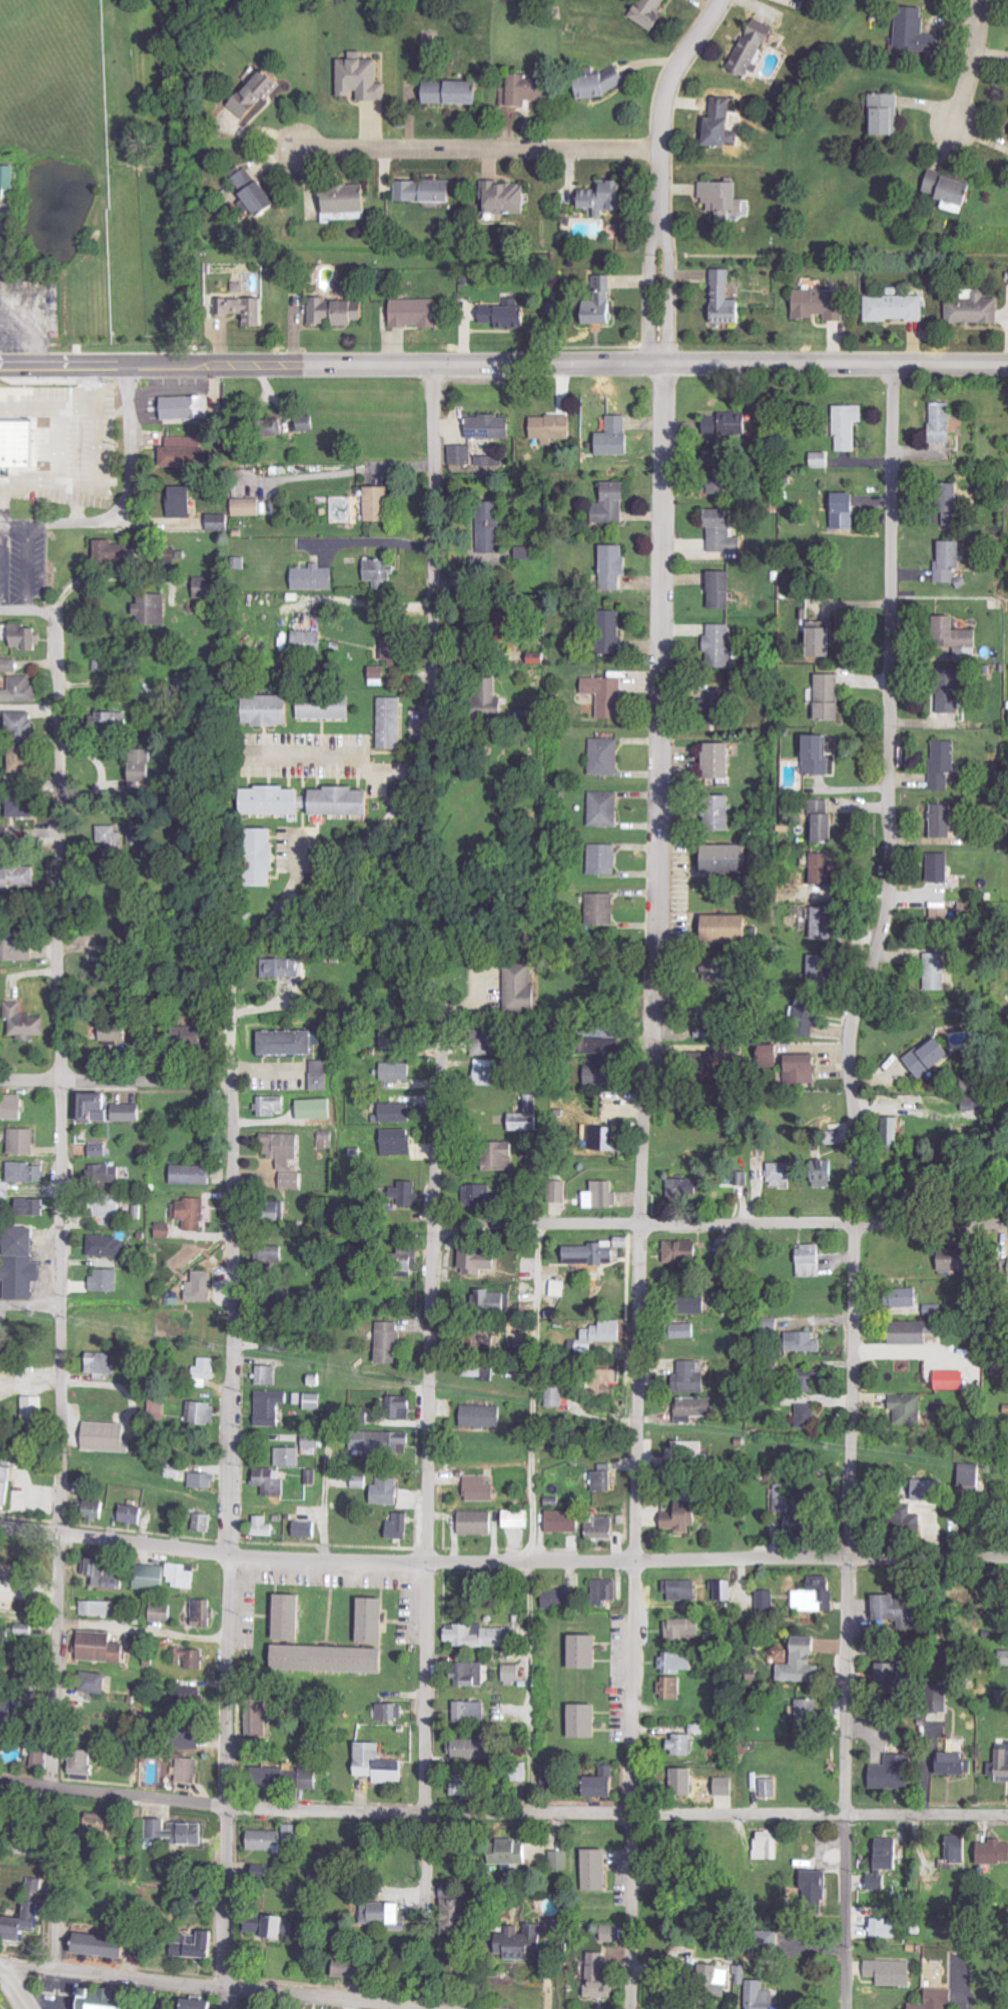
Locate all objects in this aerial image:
building: (653, 14)
building: (916, 33)
building: (431, 36)
building: (757, 48)
road: (972, 66)
building: (364, 78)
building: (607, 81)
building: (528, 85)
building: (456, 92)
building: (259, 95)
building: (889, 112)
building: (724, 122)
road: (480, 146)
road: (661, 174)
building: (8, 180)
building: (954, 187)
building: (429, 190)
building: (259, 192)
building: (508, 197)
building: (609, 197)
building: (349, 198)
building: (727, 200)
building: (726, 298)
building: (604, 301)
parking lot: (22, 303)
building: (823, 304)
building: (897, 308)
building: (976, 309)
building: (336, 311)
building: (418, 313)
road: (35, 314)
building: (508, 314)
road: (35, 349)
road: (503, 363)
road: (46, 404)
building: (198, 407)
building: (944, 422)
building: (308, 424)
building: (733, 424)
building: (849, 426)
building: (491, 427)
building: (617, 437)
building: (14, 442)
building: (183, 457)
building: (461, 457)
building: (822, 460)
road: (94, 469)
road: (128, 475)
building: (719, 484)
building: (183, 502)
building: (380, 503)
building: (612, 504)
building: (248, 507)
building: (954, 508)
building: (847, 510)
road: (12, 522)
building: (219, 523)
road: (34, 524)
building: (492, 532)
building: (724, 533)
road: (368, 543)
building: (112, 551)
building: (528, 552)
building: (951, 561)
building: (241, 563)
building: (617, 566)
road: (24, 568)
building: (380, 572)
building: (316, 578)
building: (209, 587)
building: (723, 590)
road: (359, 602)
building: (155, 609)
road: (27, 611)
building: (514, 626)
building: (615, 632)
building: (961, 633)
building: (25, 637)
building: (826, 638)
building: (311, 640)
building: (721, 644)
building: (396, 651)
building: (969, 654)
building: (100, 663)
building: (9, 667)
building: (379, 676)
road: (427, 685)
building: (20, 690)
building: (953, 690)
building: (496, 695)
building: (609, 695)
building: (831, 697)
building: (721, 707)
building: (327, 708)
building: (272, 710)
building: (113, 720)
building: (393, 723)
building: (23, 726)
road: (665, 733)
building: (821, 754)
building: (607, 757)
road: (332, 759)
building: (24, 760)
building: (722, 760)
building: (946, 763)
building: (143, 770)
building: (279, 800)
building: (344, 803)
building: (23, 808)
building: (606, 809)
building: (724, 812)
building: (826, 820)
building: (945, 821)
building: (138, 838)
building: (114, 839)
building: (266, 856)
building: (729, 858)
building: (605, 859)
building: (824, 868)
building: (942, 868)
building: (18, 878)
building: (603, 909)
building: (942, 915)
building: (826, 923)
building: (730, 928)
building: (21, 949)
building: (115, 962)
building: (283, 968)
building: (725, 970)
building: (821, 970)
building: (936, 972)
building: (522, 985)
building: (809, 1012)
building: (29, 1022)
building: (717, 1025)
building: (118, 1031)
building: (396, 1039)
building: (290, 1042)
building: (770, 1053)
building: (732, 1054)
building: (931, 1058)
building: (804, 1069)
building: (398, 1072)
building: (490, 1072)
building: (600, 1073)
building: (321, 1076)
road: (114, 1079)
building: (273, 1105)
building: (100, 1107)
building: (15, 1108)
building: (976, 1108)
building: (317, 1109)
building: (397, 1112)
building: (131, 1113)
building: (525, 1122)
building: (896, 1128)
building: (613, 1139)
building: (328, 1140)
building: (24, 1141)
building: (398, 1142)
building: (100, 1149)
building: (284, 1149)
building: (502, 1156)
building: (26, 1173)
building: (783, 1173)
building: (106, 1174)
building: (194, 1174)
building: (826, 1174)
building: (293, 1181)
road: (854, 1184)
building: (687, 1189)
building: (560, 1192)
building: (408, 1194)
building: (480, 1194)
building: (605, 1195)
building: (32, 1207)
building: (281, 1211)
building: (194, 1214)
road: (721, 1222)
building: (166, 1231)
building: (109, 1246)
building: (684, 1252)
building: (596, 1253)
building: (273, 1257)
building: (961, 1260)
building: (812, 1261)
building: (479, 1262)
building: (14, 1270)
building: (107, 1281)
building: (203, 1287)
building: (561, 1289)
road: (58, 1291)
building: (908, 1298)
building: (490, 1301)
building: (698, 1304)
building: (935, 1310)
building: (688, 1331)
building: (916, 1332)
building: (603, 1335)
building: (804, 1342)
building: (278, 1343)
building: (390, 1343)
building: (102, 1364)
building: (482, 1370)
building: (1002, 1370)
building: (206, 1372)
building: (0, 1373)
building: (269, 1376)
building: (694, 1377)
building: (811, 1381)
building: (954, 1381)
road: (528, 1394)
building: (317, 1402)
building: (34, 1407)
building: (402, 1407)
building: (699, 1407)
building: (272, 1408)
building: (909, 1409)
building: (204, 1413)
building: (808, 1416)
building: (483, 1417)
building: (108, 1438)
building: (384, 1443)
building: (313, 1445)
building: (683, 1451)
building: (290, 1457)
road: (227, 1469)
building: (177, 1472)
road: (428, 1474)
building: (605, 1477)
building: (313, 1478)
building: (205, 1481)
building: (271, 1482)
building: (6, 1486)
building: (481, 1489)
building: (931, 1491)
building: (387, 1492)
road: (322, 1499)
building: (783, 1500)
building: (97, 1509)
building: (133, 1515)
building: (684, 1515)
building: (804, 1518)
building: (518, 1519)
building: (565, 1522)
building: (205, 1523)
building: (478, 1523)
building: (266, 1527)
building: (401, 1527)
building: (306, 1529)
building: (602, 1529)
road: (636, 1554)
road: (503, 1564)
building: (0, 1573)
building: (105, 1575)
building: (167, 1577)
building: (683, 1590)
building: (606, 1591)
building: (723, 1591)
building: (818, 1599)
building: (559, 1600)
building: (767, 1601)
building: (100, 1609)
building: (894, 1611)
building: (163, 1612)
building: (204, 1613)
building: (291, 1618)
building: (376, 1620)
building: (687, 1628)
road: (142, 1629)
building: (480, 1636)
building: (105, 1648)
building: (588, 1650)
building: (332, 1658)
building: (677, 1662)
building: (191, 1663)
building: (803, 1664)
building: (470, 1674)
building: (514, 1674)
building: (899, 1676)
building: (99, 1681)
building: (673, 1687)
road: (527, 1688)
building: (192, 1698)
building: (9, 1708)
building: (472, 1710)
building: (392, 1712)
building: (264, 1715)
building: (809, 1716)
building: (587, 1720)
building: (196, 1740)
building: (683, 1744)
building: (474, 1748)
building: (46, 1753)
building: (90, 1762)
building: (380, 1763)
building: (957, 1763)
building: (1001, 1766)
building: (192, 1769)
building: (893, 1772)
building: (290, 1775)
building: (553, 1781)
building: (685, 1781)
building: (607, 1783)
building: (471, 1785)
building: (728, 1786)
building: (771, 1787)
road: (503, 1813)
building: (183, 1830)
building: (293, 1832)
building: (267, 1840)
building: (769, 1846)
building: (521, 1851)
building: (995, 1851)
building: (562, 1860)
building: (889, 1865)
building: (599, 1869)
building: (812, 1885)
building: (463, 1896)
building: (392, 1911)
building: (16, 1920)
building: (26, 1922)
building: (282, 1924)
building: (887, 1927)
building: (534, 1938)
building: (94, 1944)
building: (199, 1945)
building: (742, 1953)
building: (355, 1967)
building: (893, 1972)
building: (730, 1974)
building: (604, 1975)
road: (205, 1984)
road: (13, 1991)
building: (770, 1996)
building: (96, 1999)
building: (937, 1999)
building: (198, 2003)
building: (7, 2008)

